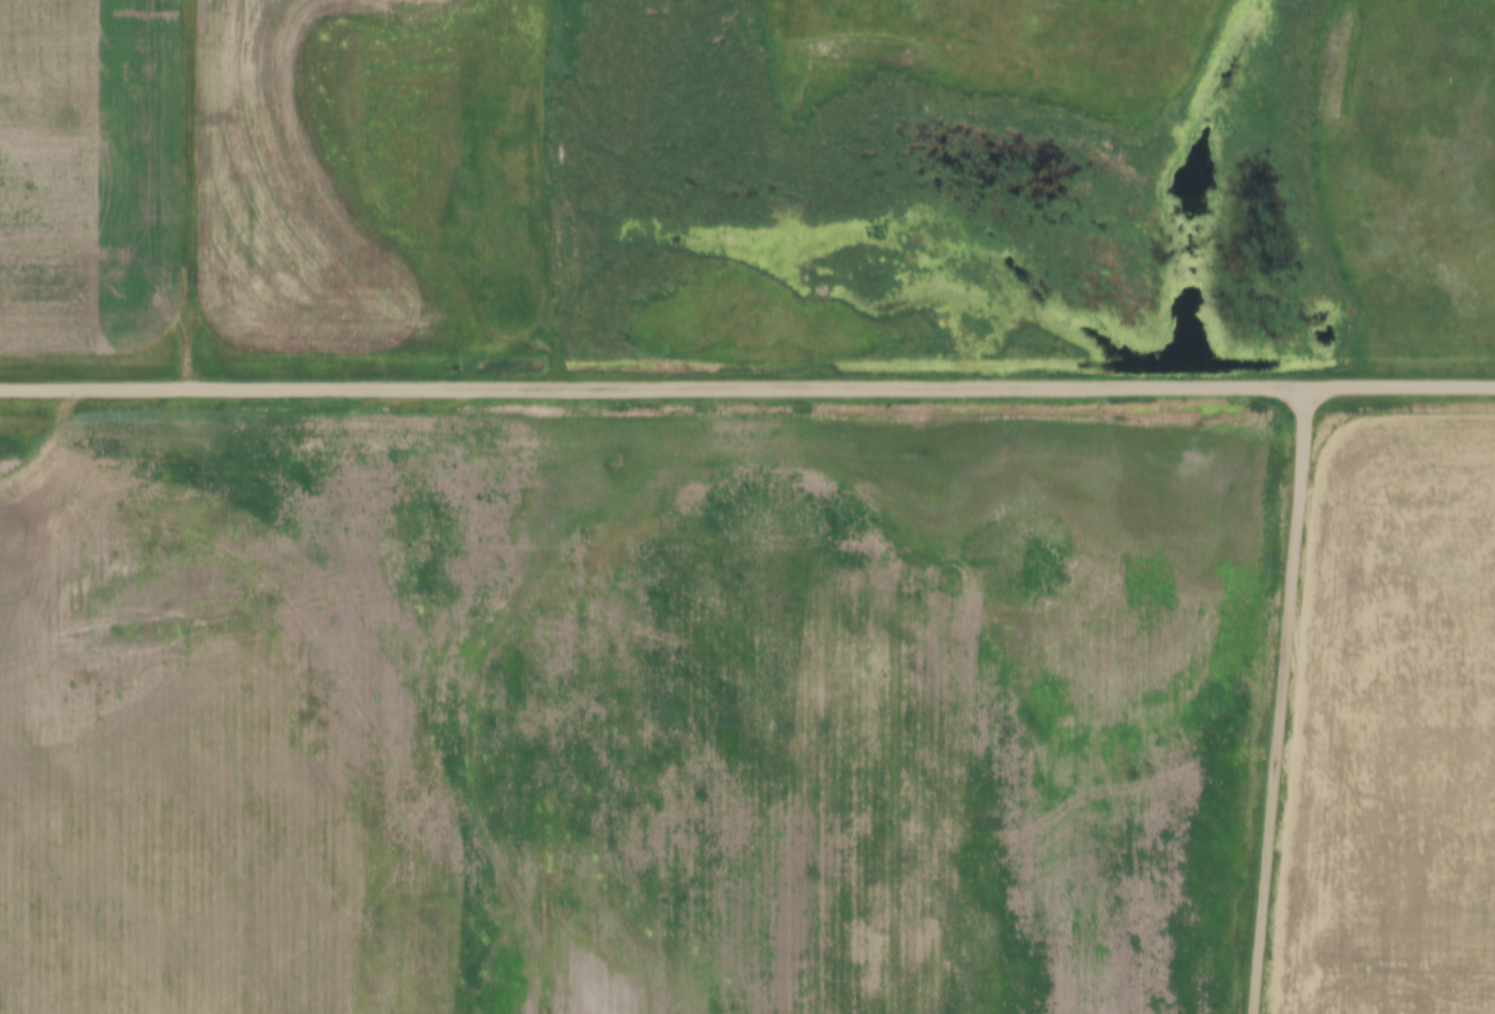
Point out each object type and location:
road: (556, 192)
road: (747, 386)
road: (1281, 700)

